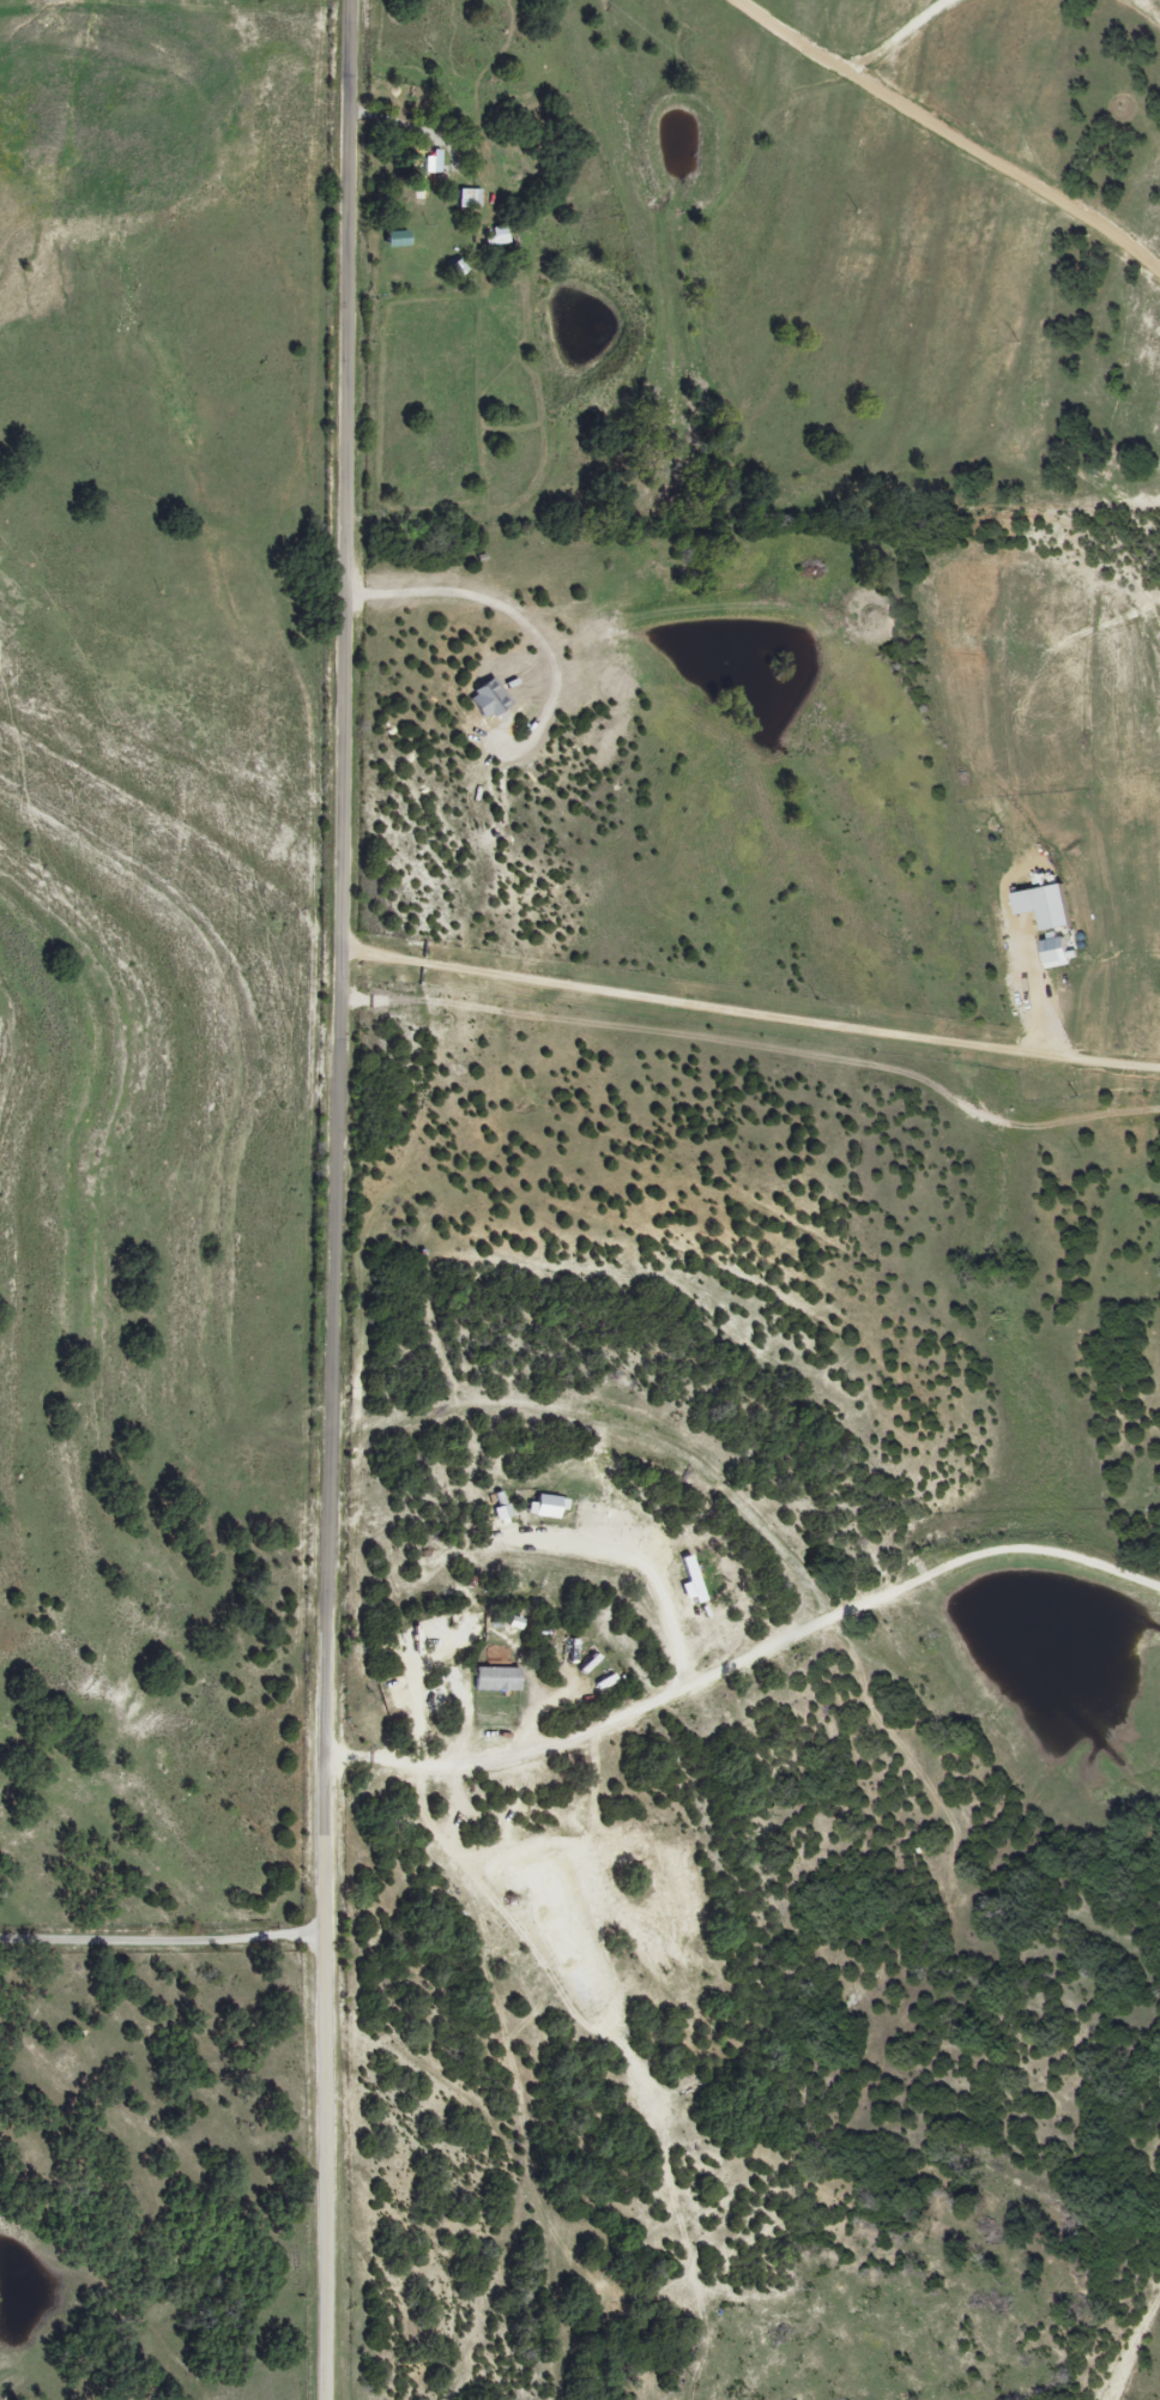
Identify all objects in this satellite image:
road: (967, 121)
building: (416, 170)
building: (463, 199)
building: (490, 241)
road: (1034, 990)
road: (748, 1015)
road: (333, 1199)
road: (641, 1562)
road: (744, 1659)
road: (161, 1942)

